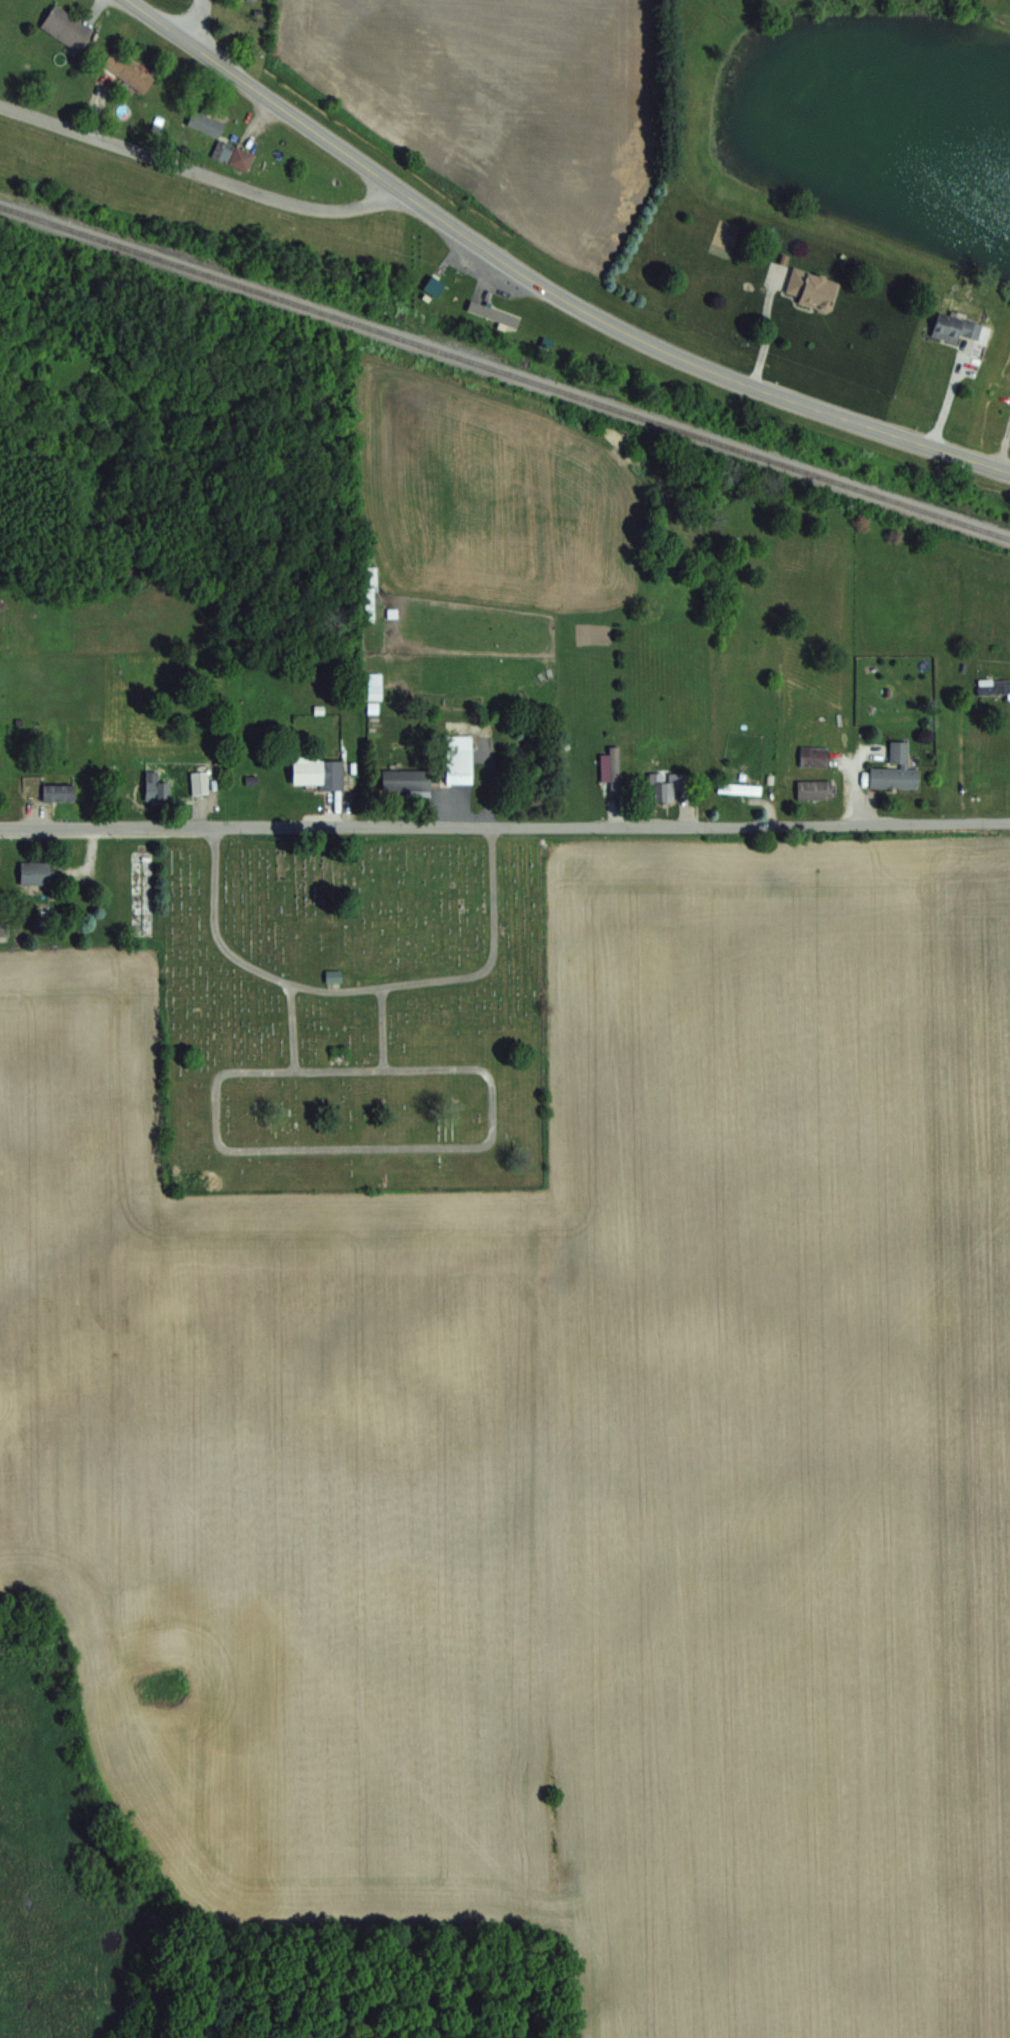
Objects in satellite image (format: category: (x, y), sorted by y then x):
road: (201, 25)
building: (71, 28)
building: (139, 75)
crop: (509, 96)
railway: (47, 161)
road: (191, 170)
road: (391, 191)
railway: (93, 276)
road: (543, 285)
road: (766, 327)
building: (961, 327)
railway: (504, 371)
road: (950, 396)
building: (372, 594)
building: (378, 685)
building: (464, 758)
building: (898, 770)
building: (320, 772)
building: (411, 779)
building: (743, 788)
building: (816, 788)
building: (61, 791)
road: (505, 826)
building: (39, 872)
road: (353, 988)
park: (355, 1011)
road: (285, 1027)
road: (377, 1027)
road: (17, 1131)
road: (404, 1150)

